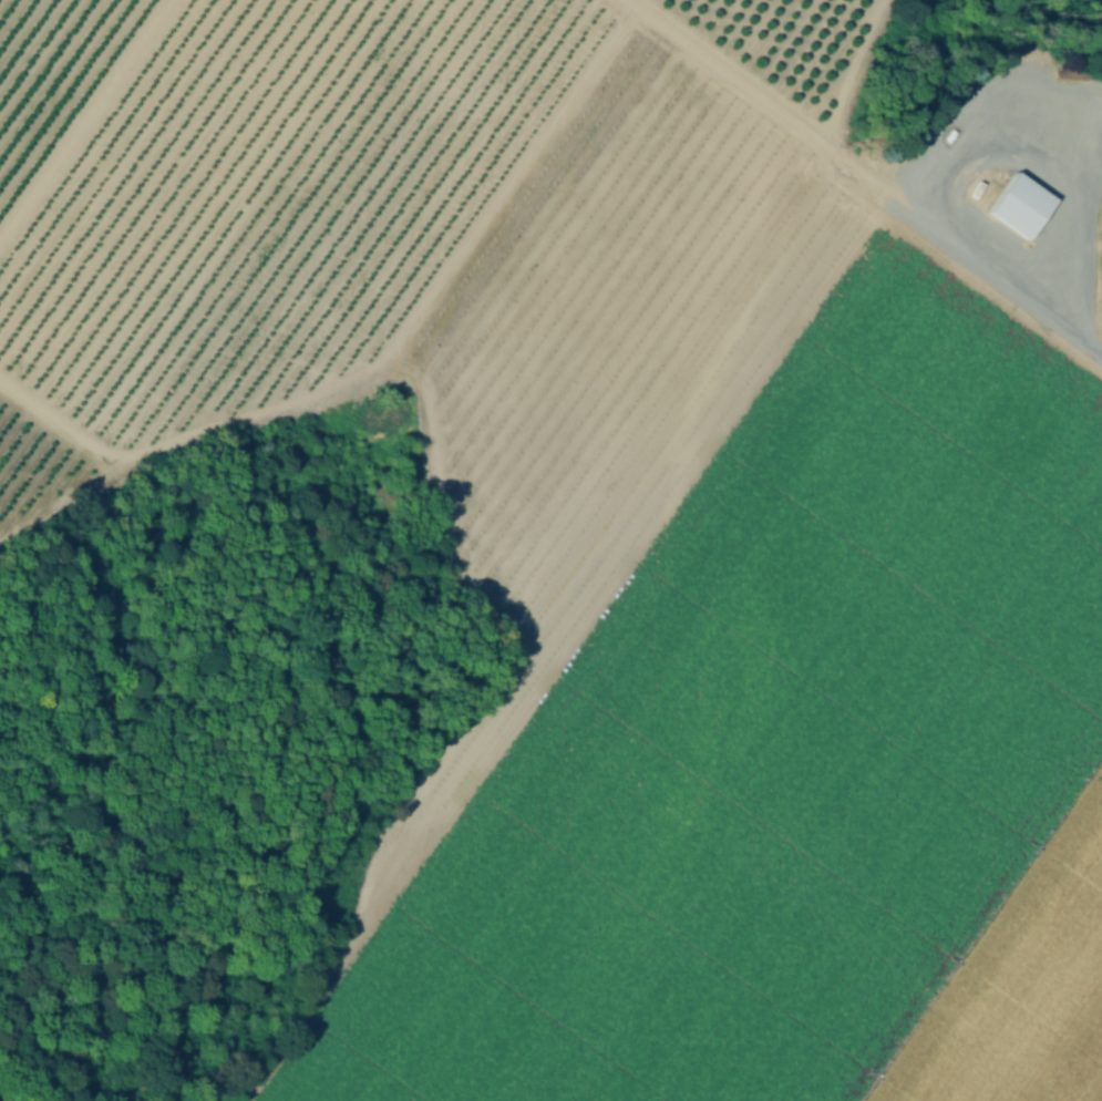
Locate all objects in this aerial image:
road: (867, 171)
building: (1019, 207)
crop: (632, 515)

